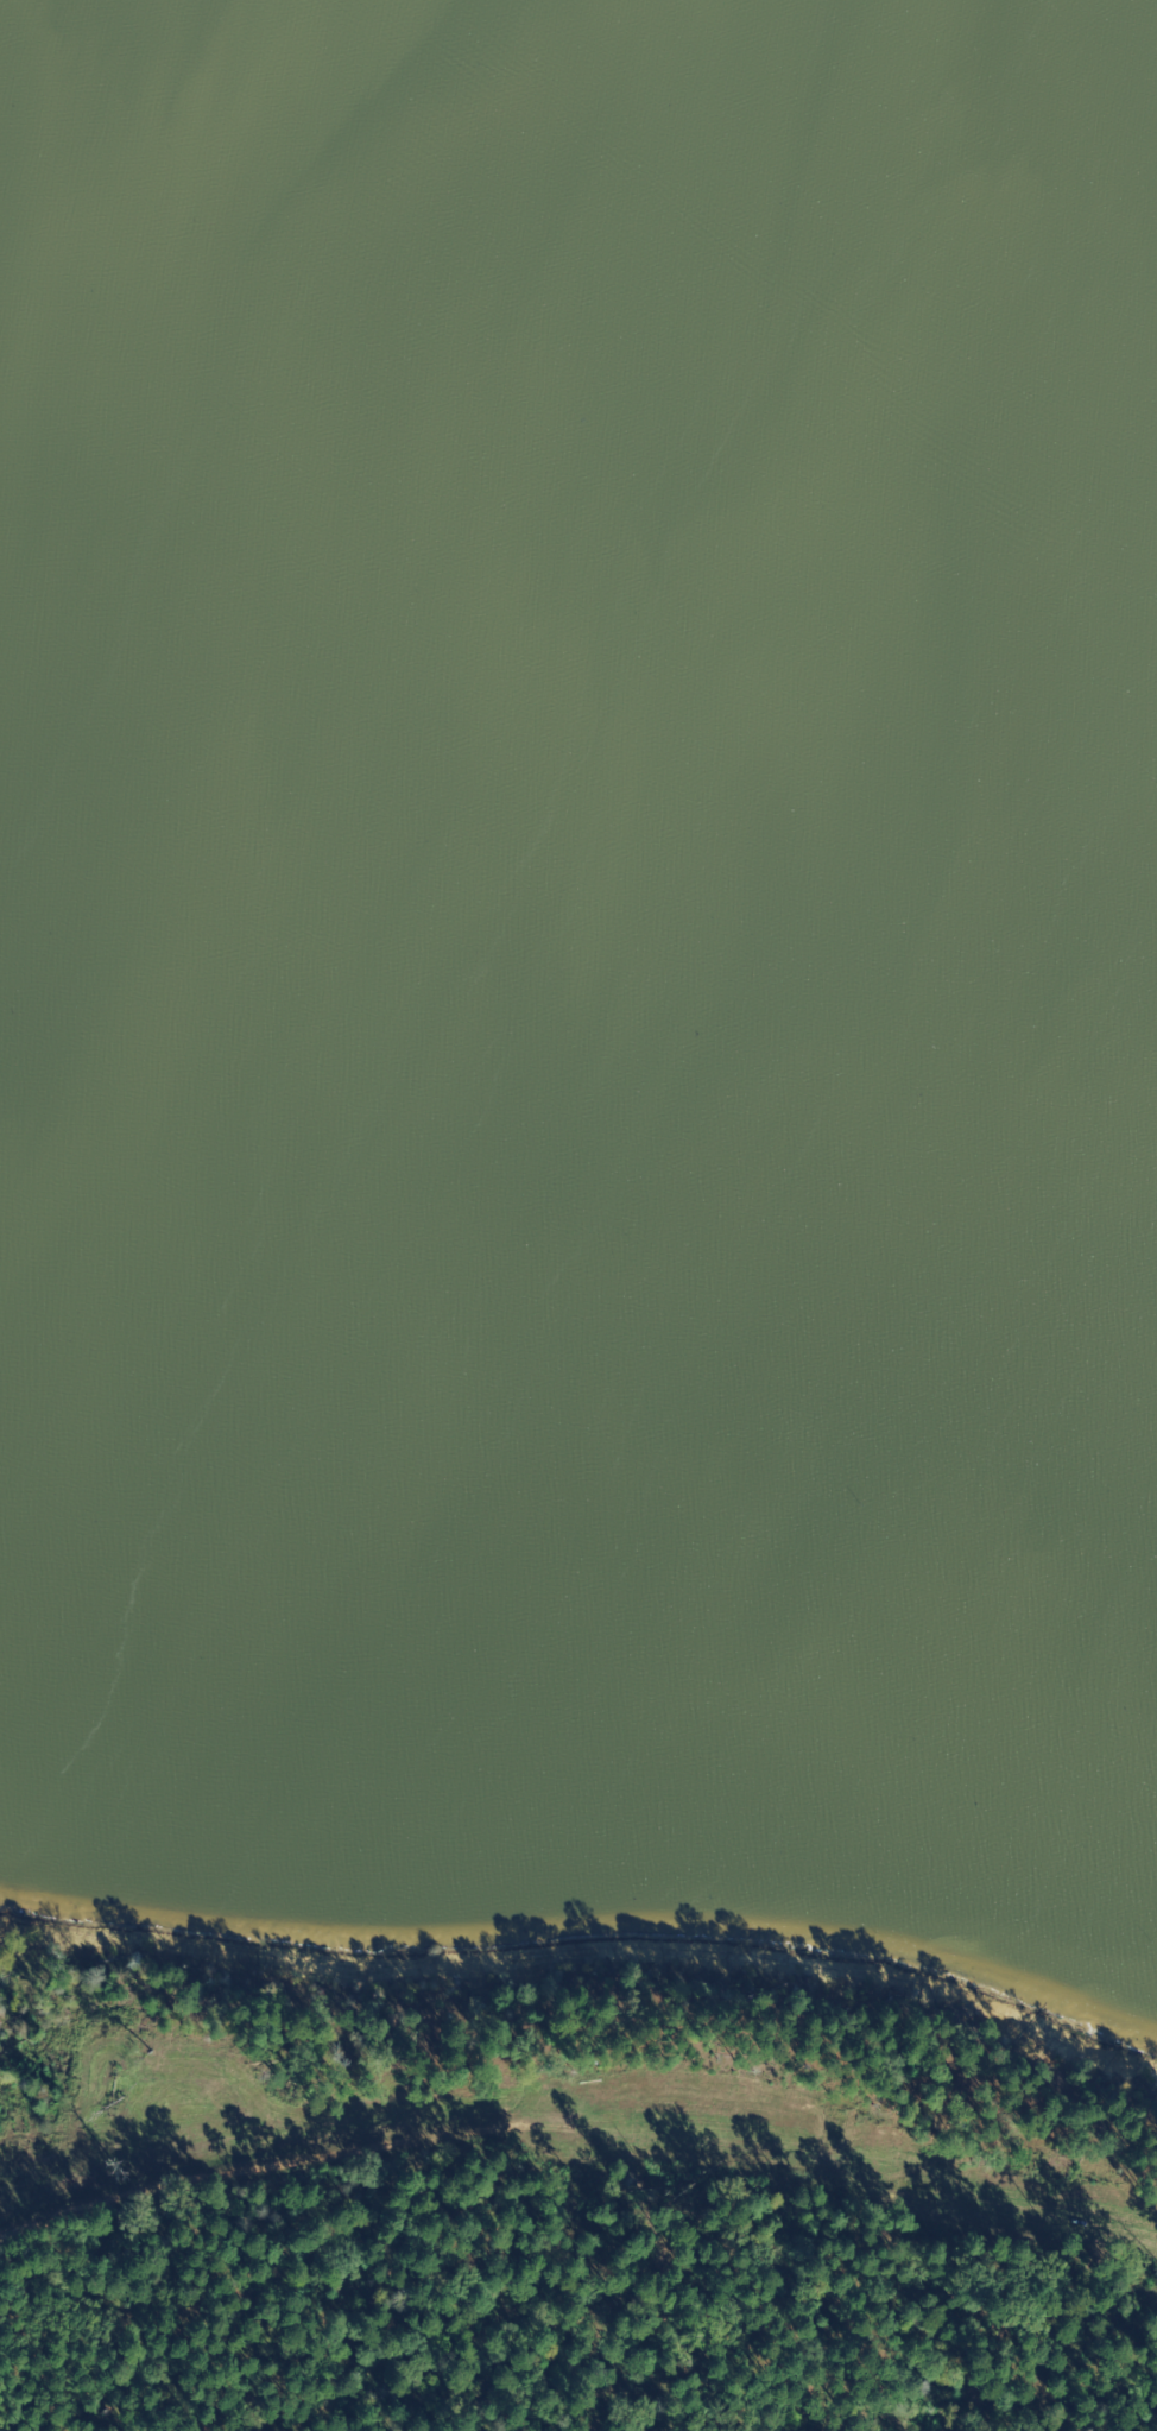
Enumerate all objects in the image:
road: (252, 2111)

